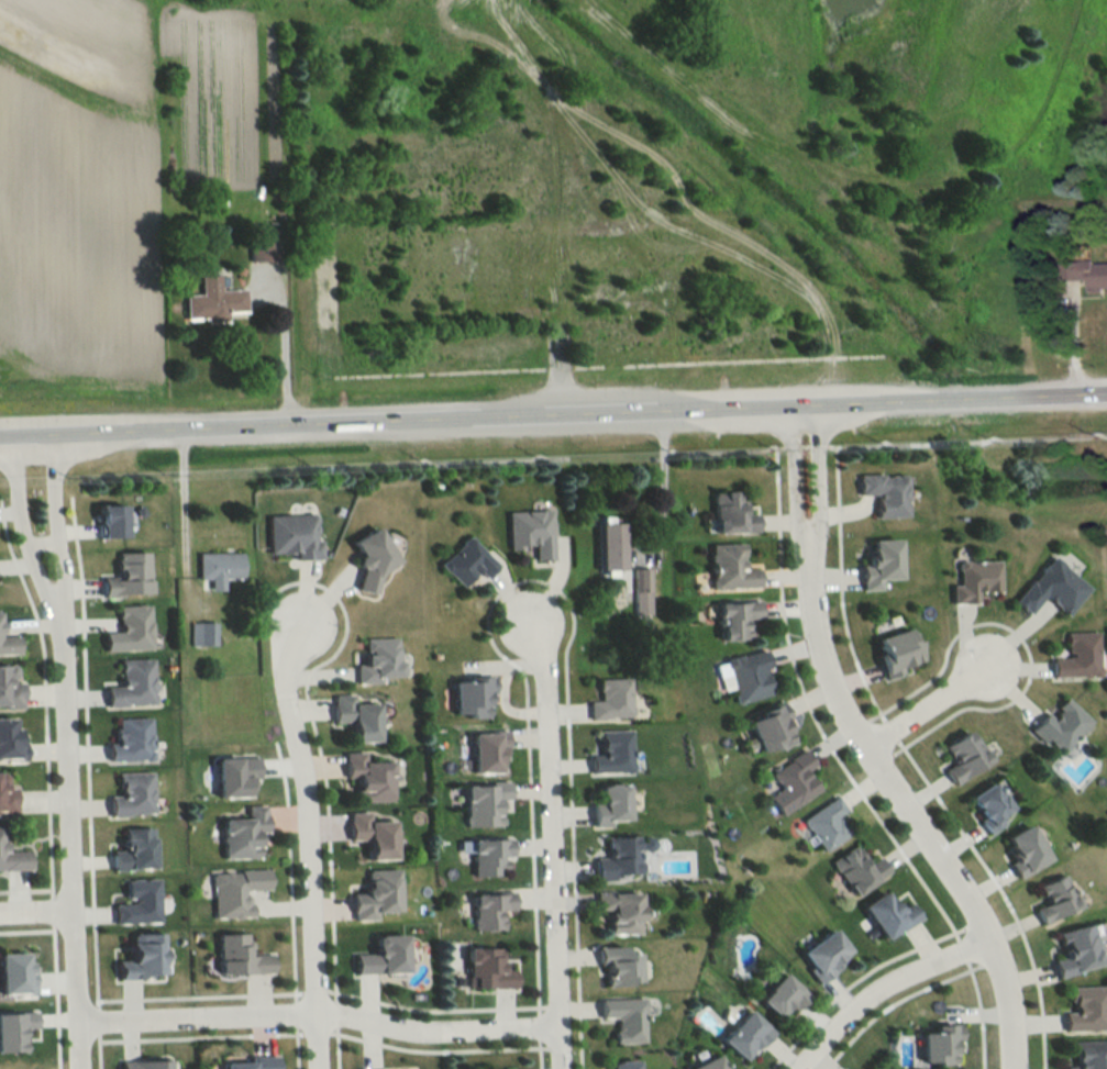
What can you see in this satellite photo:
crop: (107, 168)
building: (266, 250)
building: (1086, 274)
building: (217, 300)
road: (284, 348)
road: (553, 417)
road: (884, 439)
road: (662, 485)
building: (883, 492)
building: (729, 513)
building: (108, 520)
road: (55, 530)
building: (530, 531)
road: (23, 533)
building: (292, 535)
road: (43, 544)
building: (608, 545)
road: (805, 548)
building: (369, 559)
building: (465, 560)
building: (877, 564)
building: (218, 567)
building: (729, 568)
building: (126, 574)
building: (972, 580)
road: (546, 583)
road: (838, 586)
building: (1048, 588)
building: (639, 590)
road: (310, 601)
road: (551, 612)
building: (733, 619)
building: (0, 626)
building: (128, 628)
building: (201, 633)
road: (1018, 641)
building: (8, 644)
building: (894, 652)
building: (1075, 656)
building: (377, 660)
road: (1006, 660)
building: (746, 676)
building: (131, 682)
building: (9, 687)
building: (471, 695)
building: (609, 699)
road: (42, 705)
road: (912, 711)
road: (808, 712)
building: (355, 717)
building: (1058, 724)
building: (768, 728)
road: (888, 731)
road: (313, 735)
building: (130, 739)
building: (10, 740)
road: (86, 750)
building: (486, 750)
building: (611, 750)
building: (961, 756)
building: (232, 776)
building: (367, 777)
building: (790, 782)
building: (131, 793)
building: (7, 798)
building: (481, 802)
building: (609, 804)
building: (986, 806)
road: (906, 811)
building: (824, 823)
building: (241, 832)
building: (372, 835)
road: (68, 846)
building: (133, 849)
building: (1020, 850)
building: (12, 855)
building: (487, 856)
road: (308, 857)
road: (550, 858)
building: (615, 859)
road: (287, 869)
building: (855, 869)
road: (24, 888)
building: (234, 891)
road: (998, 892)
building: (375, 894)
building: (1051, 898)
building: (137, 901)
road: (35, 906)
road: (51, 909)
building: (488, 909)
building: (618, 911)
building: (887, 914)
road: (25, 928)
building: (1073, 949)
road: (959, 950)
building: (236, 955)
building: (141, 956)
building: (380, 956)
building: (821, 957)
building: (616, 965)
building: (486, 969)
building: (14, 975)
road: (852, 981)
road: (878, 987)
road: (311, 989)
road: (53, 994)
building: (781, 994)
road: (198, 995)
road: (889, 1003)
road: (431, 1009)
building: (1083, 1009)
road: (292, 1012)
road: (317, 1013)
road: (333, 1013)
road: (976, 1013)
building: (623, 1017)
road: (96, 1021)
road: (536, 1026)
building: (14, 1028)
road: (314, 1032)
building: (743, 1035)
road: (199, 1036)
building: (937, 1044)
road: (294, 1046)
road: (334, 1047)
road: (97, 1050)
road: (435, 1050)
road: (538, 1054)
building: (1086, 1054)
building: (705, 1061)
building: (252, 1062)
building: (143, 1064)
building: (621, 1065)

